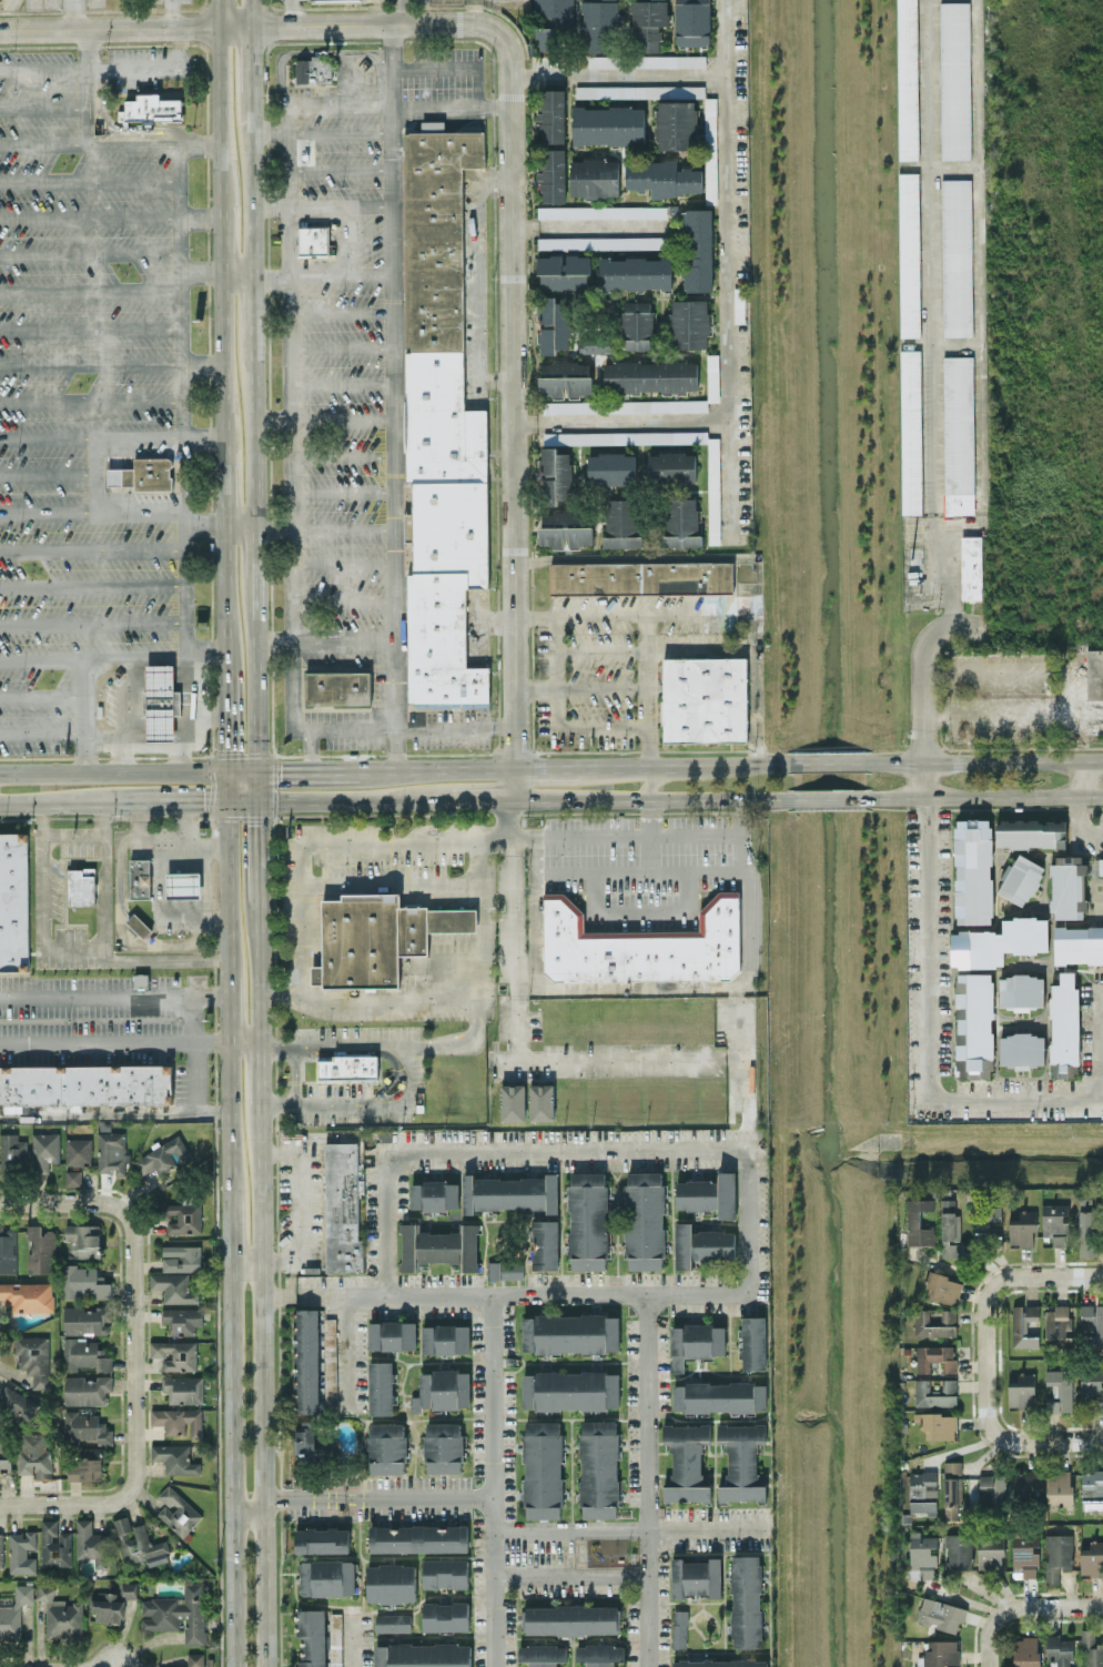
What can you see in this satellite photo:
road: (476, 12)
road: (406, 13)
road: (173, 14)
road: (215, 14)
road: (251, 14)
road: (300, 14)
road: (73, 16)
building: (566, 22)
building: (692, 22)
building: (648, 23)
building: (600, 26)
road: (239, 29)
road: (287, 51)
road: (370, 54)
road: (252, 59)
building: (598, 60)
building: (669, 60)
road: (434, 64)
building: (314, 69)
road: (108, 70)
road: (620, 73)
road: (346, 78)
building: (908, 79)
building: (954, 79)
road: (476, 85)
road: (87, 87)
road: (399, 105)
road: (43, 107)
building: (151, 108)
building: (661, 110)
road: (216, 113)
building: (551, 115)
building: (433, 125)
building: (608, 125)
road: (121, 127)
road: (270, 132)
road: (340, 132)
road: (151, 142)
road: (43, 143)
building: (710, 148)
road: (938, 166)
road: (340, 168)
building: (551, 174)
building: (594, 178)
building: (662, 178)
road: (89, 180)
road: (253, 181)
road: (368, 204)
road: (297, 205)
building: (601, 211)
road: (90, 216)
road: (199, 216)
road: (591, 225)
road: (217, 236)
building: (313, 238)
road: (345, 239)
building: (601, 242)
building: (698, 250)
road: (90, 252)
building: (909, 254)
building: (957, 257)
building: (564, 271)
road: (727, 271)
road: (324, 273)
road: (475, 273)
building: (635, 273)
road: (200, 274)
road: (236, 274)
road: (979, 284)
road: (181, 287)
road: (90, 292)
road: (254, 305)
road: (342, 309)
road: (931, 313)
building: (689, 323)
building: (553, 324)
building: (637, 325)
road: (90, 327)
building: (597, 343)
road: (940, 343)
road: (342, 347)
road: (219, 361)
road: (90, 363)
road: (200, 363)
building: (649, 375)
building: (712, 377)
building: (565, 378)
road: (495, 380)
road: (343, 383)
road: (396, 396)
road: (91, 400)
building: (625, 405)
road: (290, 417)
road: (272, 420)
road: (343, 420)
road: (621, 422)
building: (443, 424)
road: (254, 431)
building: (911, 431)
building: (959, 434)
road: (48, 435)
road: (158, 435)
road: (343, 457)
building: (610, 468)
building: (670, 469)
building: (143, 472)
road: (48, 473)
road: (97, 474)
road: (183, 474)
building: (556, 475)
road: (220, 486)
building: (714, 489)
road: (344, 493)
road: (48, 514)
road: (140, 514)
building: (681, 522)
building: (621, 523)
road: (202, 525)
road: (237, 525)
road: (272, 527)
building: (566, 528)
road: (344, 529)
road: (515, 532)
road: (91, 549)
road: (254, 550)
road: (344, 563)
building: (970, 566)
building: (641, 577)
road: (183, 580)
road: (91, 586)
road: (221, 597)
road: (344, 598)
road: (623, 618)
road: (92, 622)
road: (934, 636)
road: (327, 639)
road: (601, 655)
road: (753, 656)
road: (40, 659)
road: (100, 659)
road: (257, 671)
building: (341, 686)
road: (536, 686)
road: (601, 686)
road: (648, 691)
road: (1069, 693)
road: (41, 697)
building: (704, 699)
road: (130, 700)
building: (160, 701)
gas station: (160, 701)
road: (209, 717)
road: (223, 719)
road: (555, 720)
road: (405, 727)
road: (41, 733)
road: (175, 741)
road: (927, 741)
traffic signals: (224, 748)
road: (311, 748)
road: (119, 755)
road: (180, 755)
road: (210, 755)
road: (104, 757)
road: (985, 759)
road: (828, 761)
road: (745, 762)
road: (686, 765)
road: (311, 766)
road: (439, 766)
road: (626, 766)
road: (547, 767)
traffic signals: (281, 768)
road: (111, 769)
road: (241, 769)
road: (1082, 775)
road: (655, 778)
road: (224, 785)
road: (259, 785)
road: (274, 785)
road: (983, 794)
road: (828, 797)
road: (484, 798)
road: (652, 798)
road: (356, 799)
traffic signals: (203, 800)
road: (242, 800)
road: (62, 801)
road: (175, 801)
road: (829, 807)
road: (897, 808)
road: (532, 812)
road: (649, 816)
road: (241, 817)
road: (189, 819)
traffic signals: (259, 824)
road: (1080, 824)
road: (42, 828)
building: (1030, 832)
road: (626, 833)
road: (87, 836)
road: (326, 840)
road: (194, 843)
road: (213, 849)
road: (259, 849)
building: (1101, 866)
road: (639, 869)
building: (972, 871)
building: (140, 877)
building: (1020, 879)
road: (391, 882)
building: (183, 883)
road: (43, 886)
building: (81, 886)
road: (225, 887)
building: (1067, 887)
road: (105, 891)
building: (13, 901)
road: (639, 910)
road: (535, 911)
building: (139, 925)
building: (377, 937)
building: (999, 941)
building: (641, 944)
building: (1077, 944)
road: (927, 949)
road: (118, 957)
road: (260, 971)
road: (736, 984)
road: (112, 989)
building: (1021, 991)
road: (366, 1003)
road: (225, 1008)
road: (735, 1022)
building: (973, 1024)
building: (1064, 1026)
road: (467, 1040)
road: (112, 1041)
road: (1099, 1042)
road: (243, 1044)
building: (1021, 1050)
road: (615, 1060)
building: (347, 1065)
road: (261, 1074)
road: (306, 1074)
building: (85, 1084)
road: (743, 1085)
road: (192, 1093)
building: (513, 1101)
building: (542, 1101)
road: (1015, 1101)
road: (364, 1104)
road: (226, 1120)
road: (215, 1136)
river: (970, 1144)
road: (639, 1148)
building: (12, 1151)
building: (44, 1151)
building: (78, 1151)
building: (111, 1152)
building: (163, 1155)
building: (72, 1178)
building: (510, 1192)
building: (708, 1194)
building: (434, 1195)
road: (62, 1202)
road: (300, 1205)
building: (342, 1206)
building: (182, 1216)
building: (587, 1220)
building: (644, 1220)
building: (919, 1222)
building: (1055, 1222)
road: (386, 1223)
building: (985, 1224)
road: (227, 1229)
building: (950, 1229)
building: (1022, 1229)
building: (82, 1240)
building: (544, 1244)
building: (700, 1244)
building: (438, 1246)
building: (7, 1250)
building: (40, 1250)
building: (181, 1257)
road: (245, 1260)
building: (505, 1270)
road: (1010, 1274)
building: (84, 1281)
building: (173, 1286)
building: (942, 1287)
road: (505, 1293)
building: (28, 1296)
building: (87, 1320)
building: (182, 1320)
building: (934, 1323)
building: (1058, 1323)
building: (1092, 1323)
building: (1023, 1325)
building: (569, 1333)
building: (392, 1335)
building: (445, 1338)
building: (752, 1342)
building: (696, 1343)
road: (136, 1351)
road: (345, 1352)
building: (84, 1354)
building: (175, 1354)
building: (935, 1357)
building: (33, 1358)
building: (307, 1360)
road: (263, 1384)
building: (1092, 1386)
building: (381, 1387)
building: (183, 1388)
building: (87, 1390)
building: (442, 1390)
building: (570, 1390)
building: (1059, 1390)
building: (1022, 1391)
building: (935, 1393)
building: (719, 1396)
building: (18, 1403)
building: (178, 1420)
building: (938, 1425)
building: (85, 1427)
road: (1009, 1437)
building: (307, 1443)
building: (386, 1447)
building: (443, 1447)
building: (34, 1454)
building: (174, 1458)
building: (686, 1462)
building: (741, 1462)
road: (229, 1463)
building: (87, 1465)
building: (543, 1468)
building: (598, 1468)
road: (646, 1479)
road: (493, 1481)
building: (1029, 1484)
building: (1059, 1486)
building: (952, 1487)
building: (993, 1487)
building: (1092, 1489)
building: (922, 1492)
road: (378, 1497)
road: (247, 1501)
road: (65, 1504)
building: (178, 1511)
road: (633, 1527)
building: (418, 1538)
building: (322, 1539)
building: (92, 1543)
building: (139, 1543)
building: (54, 1545)
building: (1, 1549)
building: (990, 1550)
building: (21, 1552)
building: (1025, 1554)
building: (922, 1555)
building: (958, 1555)
building: (1058, 1555)
building: (1092, 1558)
building: (445, 1573)
road: (570, 1573)
building: (696, 1576)
building: (326, 1577)
building: (391, 1583)
building: (746, 1600)
building: (112, 1603)
road: (1020, 1606)
building: (14, 1612)
building: (176, 1612)
building: (60, 1614)
building: (940, 1614)
building: (445, 1616)
building: (573, 1619)
building: (392, 1621)
building: (679, 1628)
building: (312, 1636)
road: (347, 1638)
building: (335, 1639)
building: (1091, 1649)
building: (1058, 1650)
building: (941, 1651)
building: (1025, 1651)
building: (599, 1654)
building: (422, 1655)
building: (542, 1655)
building: (195, 1659)
building: (720, 1663)

